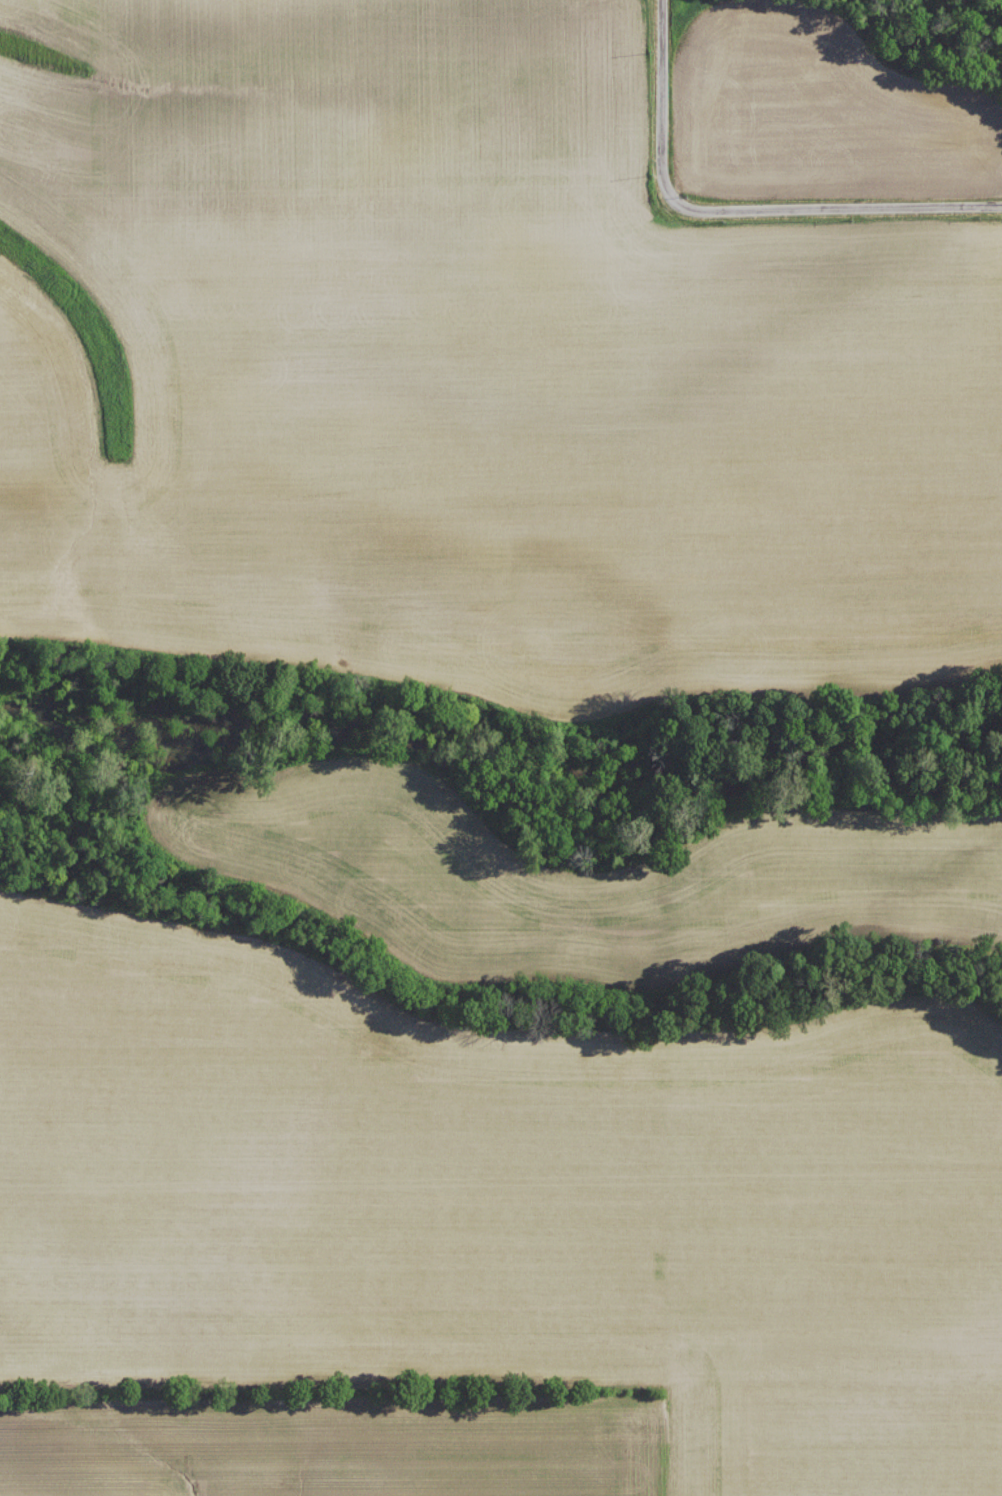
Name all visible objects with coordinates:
road: (735, 210)

